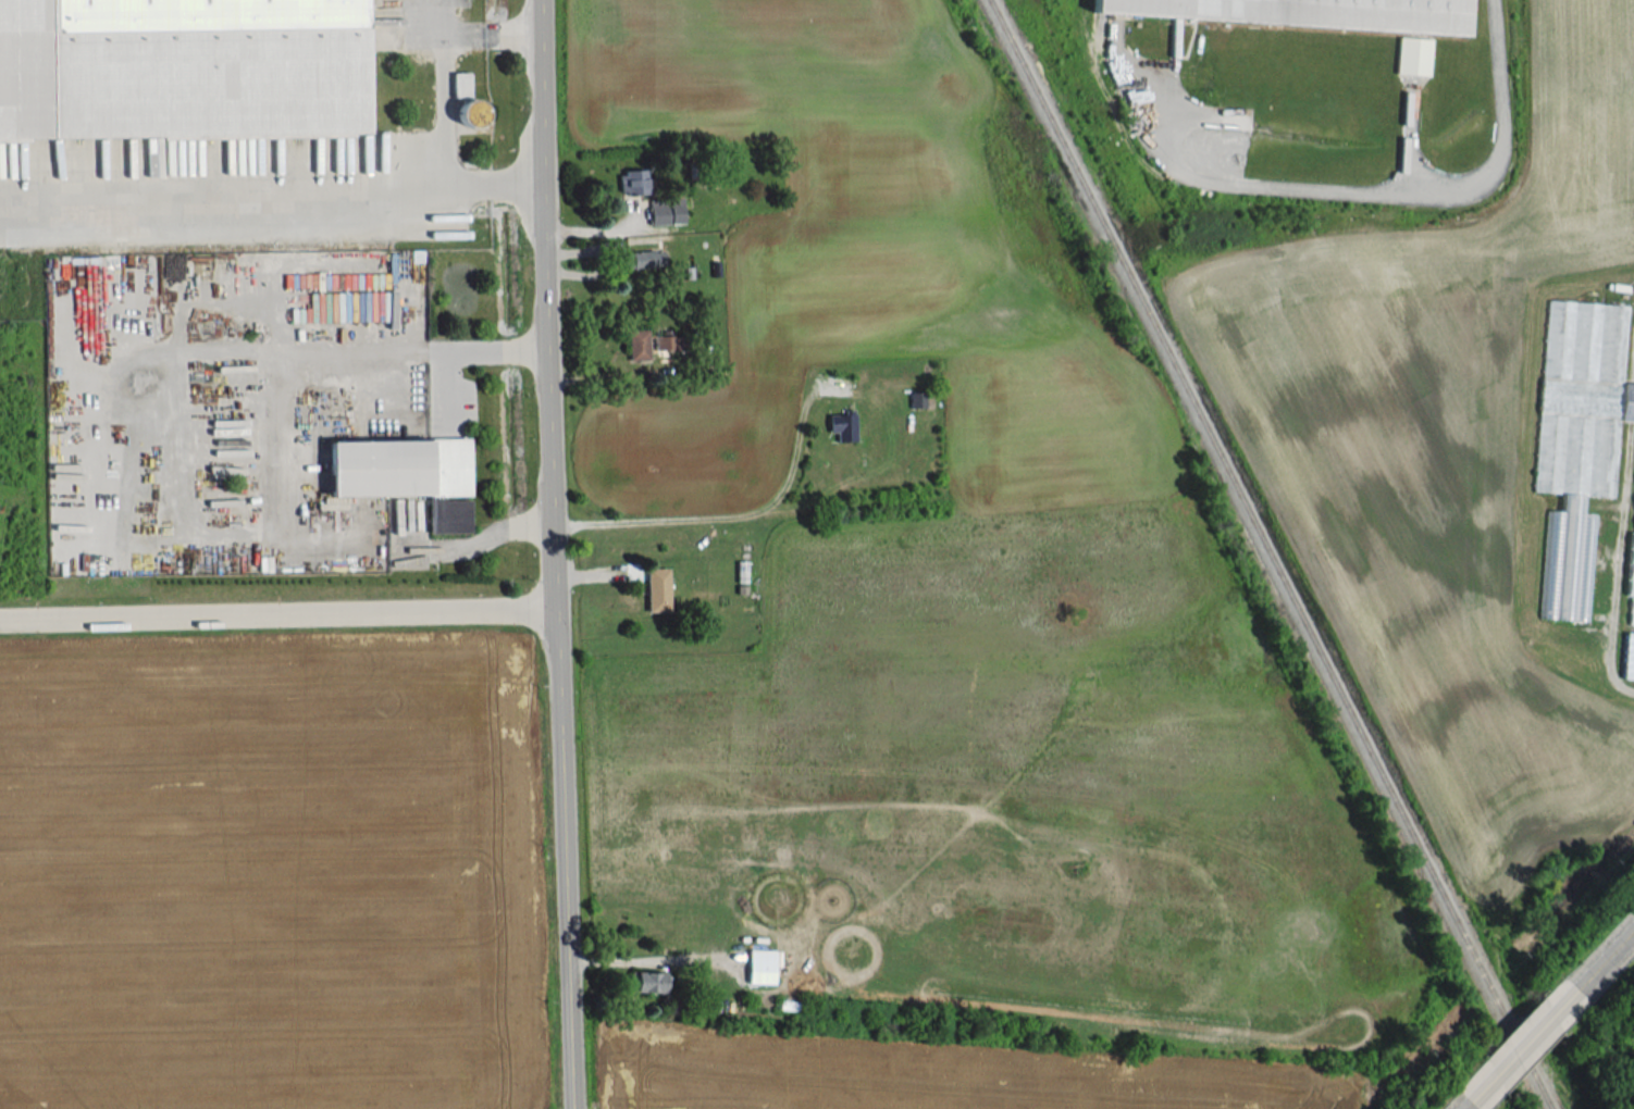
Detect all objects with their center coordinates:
building: (1308, 12)
road: (444, 20)
building: (1412, 54)
building: (182, 67)
building: (461, 84)
building: (471, 112)
building: (632, 182)
road: (346, 192)
road: (1369, 196)
building: (666, 211)
building: (644, 259)
building: (649, 342)
building: (916, 398)
building: (843, 425)
building: (1579, 443)
road: (292, 452)
building: (407, 474)
road: (744, 513)
road: (559, 554)
railway: (1271, 554)
building: (1631, 578)
building: (657, 589)
road: (281, 598)
building: (1629, 656)
road: (1601, 952)
building: (763, 964)
building: (649, 981)
road: (1515, 1045)
road: (1459, 1105)

